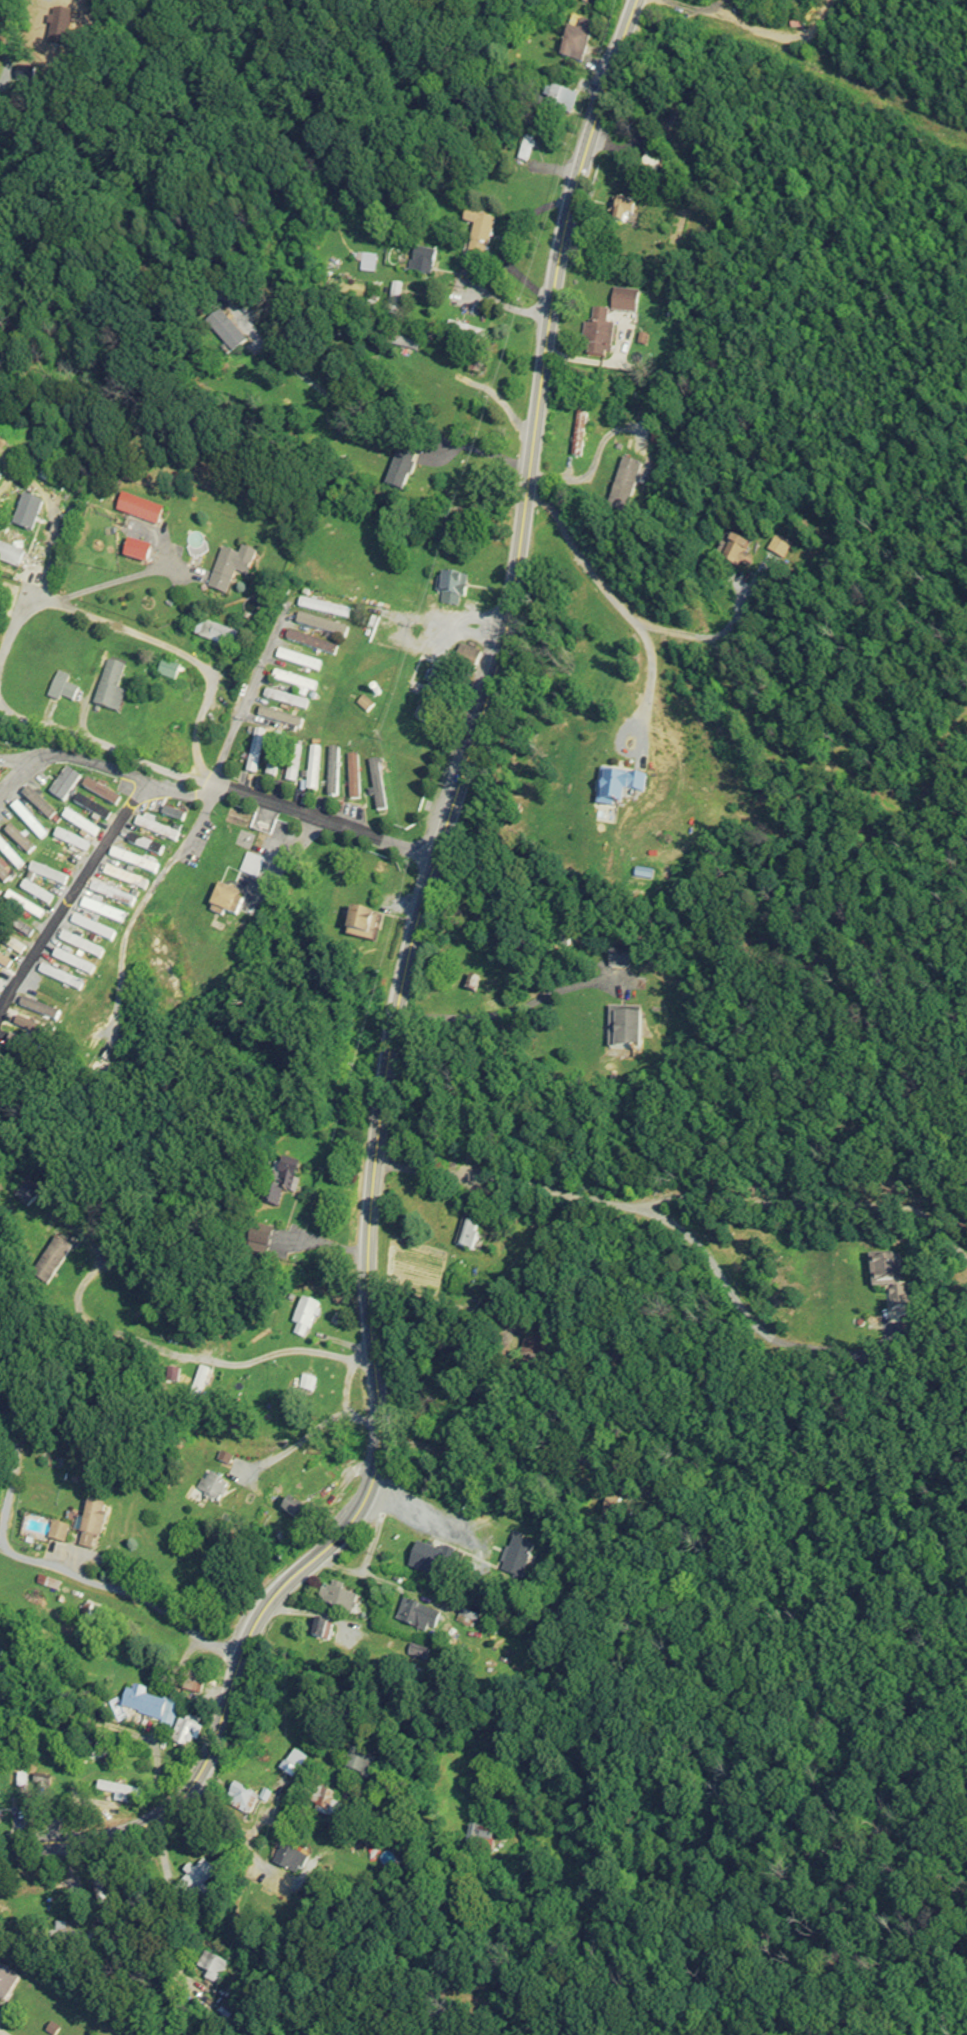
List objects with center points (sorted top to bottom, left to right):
road: (715, 1)
road: (691, 7)
road: (761, 25)
road: (0, 110)
road: (507, 242)
road: (387, 418)
road: (70, 595)
road: (617, 601)
road: (703, 638)
road: (186, 649)
road: (249, 687)
road: (7, 710)
road: (104, 766)
road: (219, 782)
road: (288, 856)
road: (71, 892)
road: (509, 1012)
road: (396, 1014)
road: (816, 1205)
road: (655, 1213)
road: (186, 1353)
road: (347, 1403)
road: (641, 1435)
road: (126, 1591)
road: (534, 1620)
road: (117, 1719)
road: (231, 1827)
road: (367, 1873)
road: (230, 1903)
road: (47, 1937)
road: (302, 1982)

